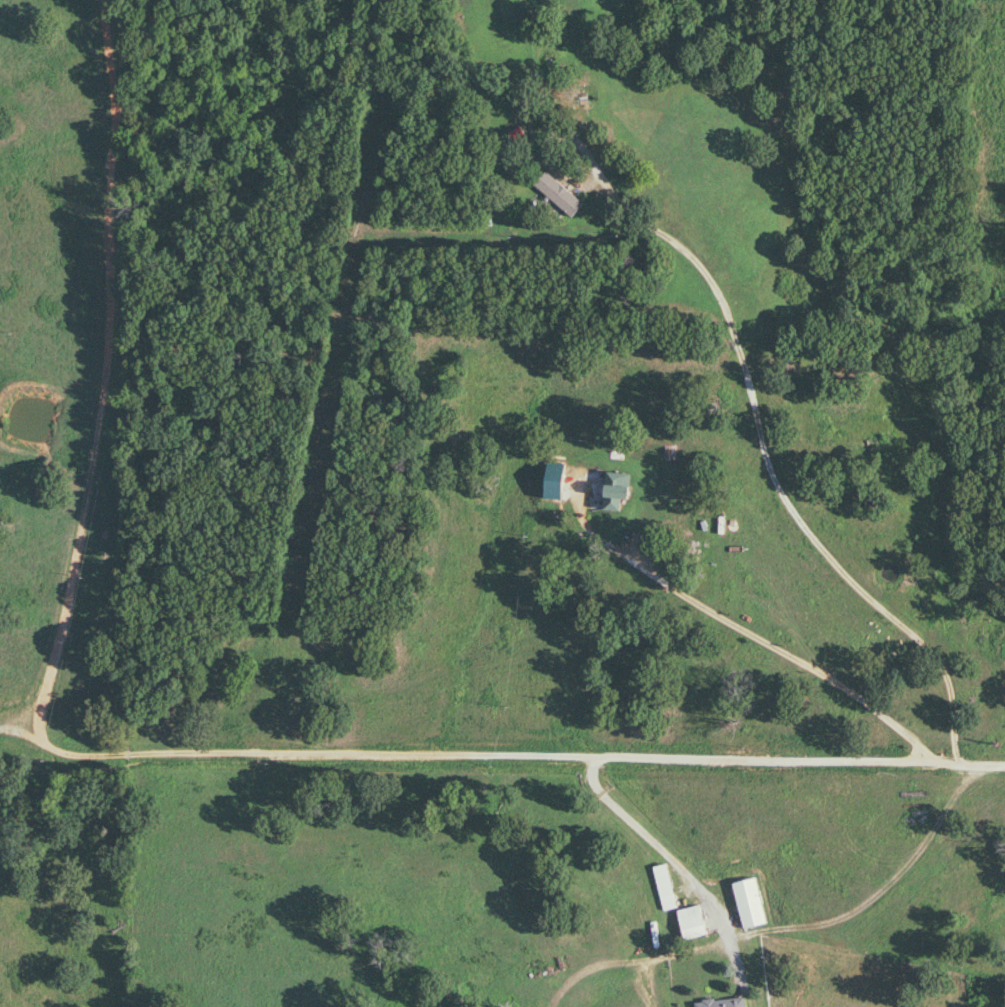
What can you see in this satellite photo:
building: (563, 49)
building: (555, 194)
road: (763, 457)
building: (609, 492)
road: (744, 631)
road: (537, 756)
road: (676, 865)
building: (662, 888)
building: (746, 904)
building: (688, 924)
building: (720, 1003)

